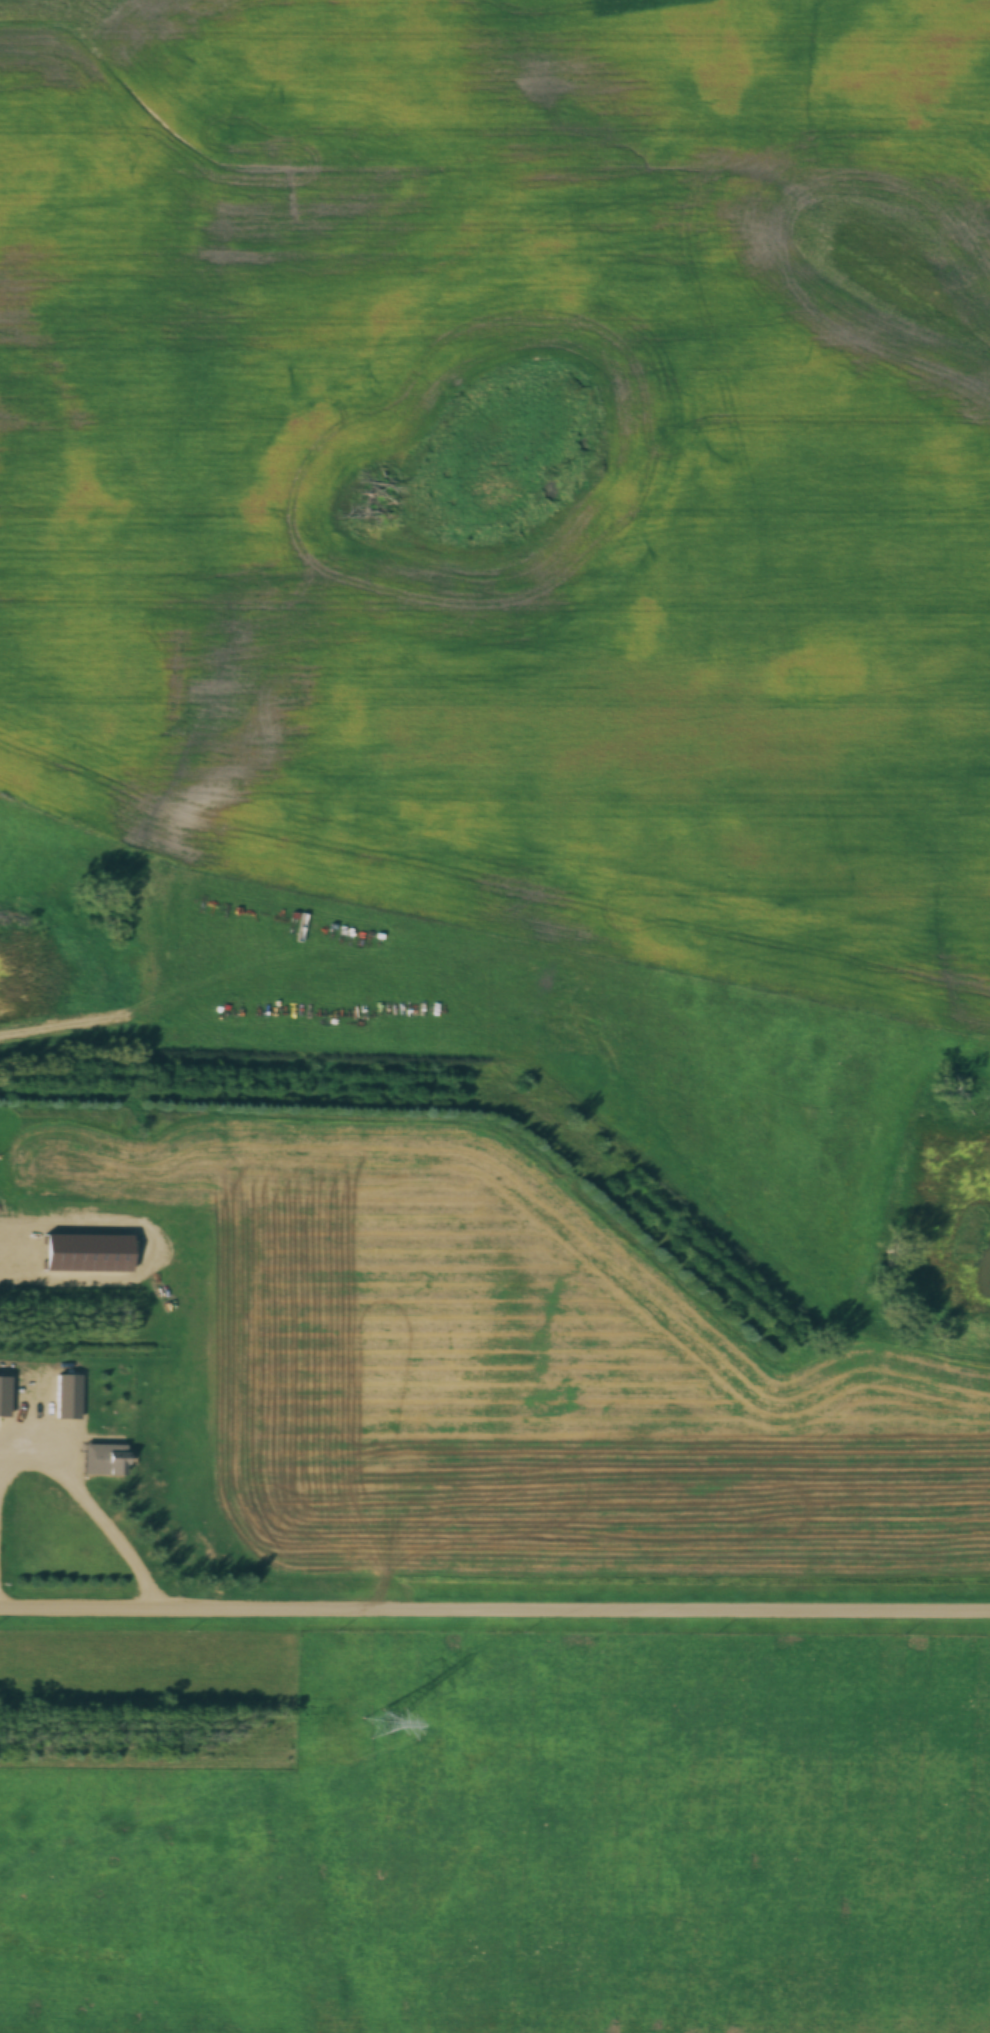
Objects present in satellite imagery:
building: (4, 1396)
building: (67, 1396)
building: (105, 1459)
road: (495, 1611)
power tower: (376, 1723)

